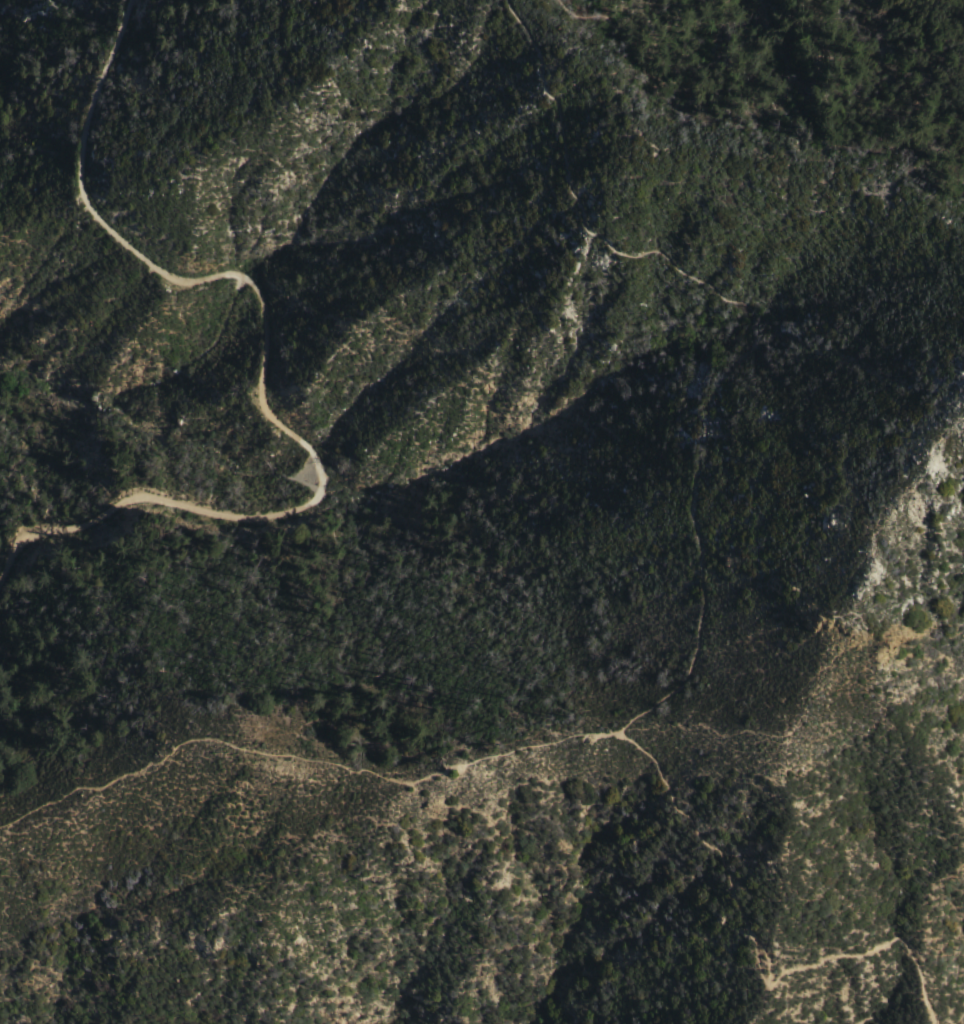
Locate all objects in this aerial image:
road: (759, 72)
road: (258, 372)
road: (701, 570)
road: (303, 752)
road: (872, 1019)

